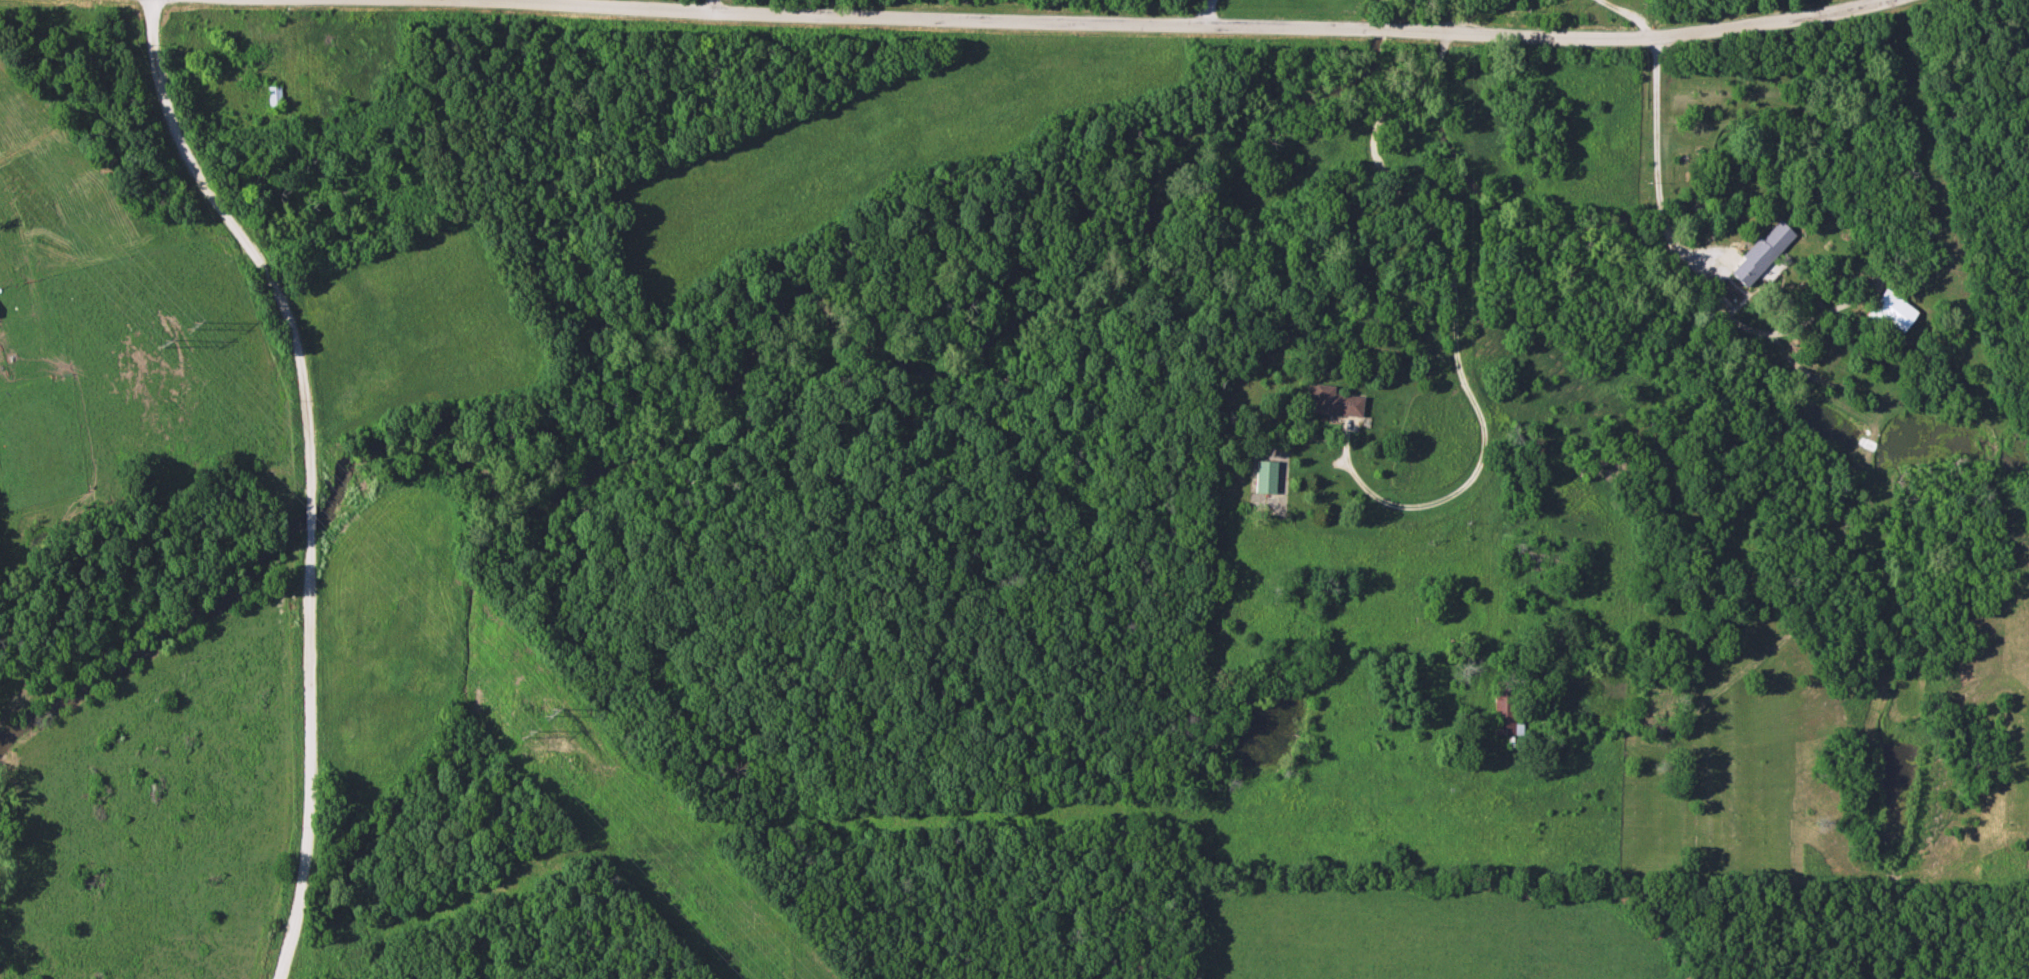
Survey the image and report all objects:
road: (709, 7)
road: (1205, 12)
road: (1637, 12)
road: (1111, 23)
building: (271, 96)
road: (1654, 164)
building: (1759, 252)
building: (1889, 313)
road: (1456, 314)
power tower: (189, 325)
power tower: (161, 342)
building: (1333, 401)
road: (303, 471)
building: (1264, 476)
building: (1502, 707)
power tower: (548, 710)
power tower: (525, 735)

